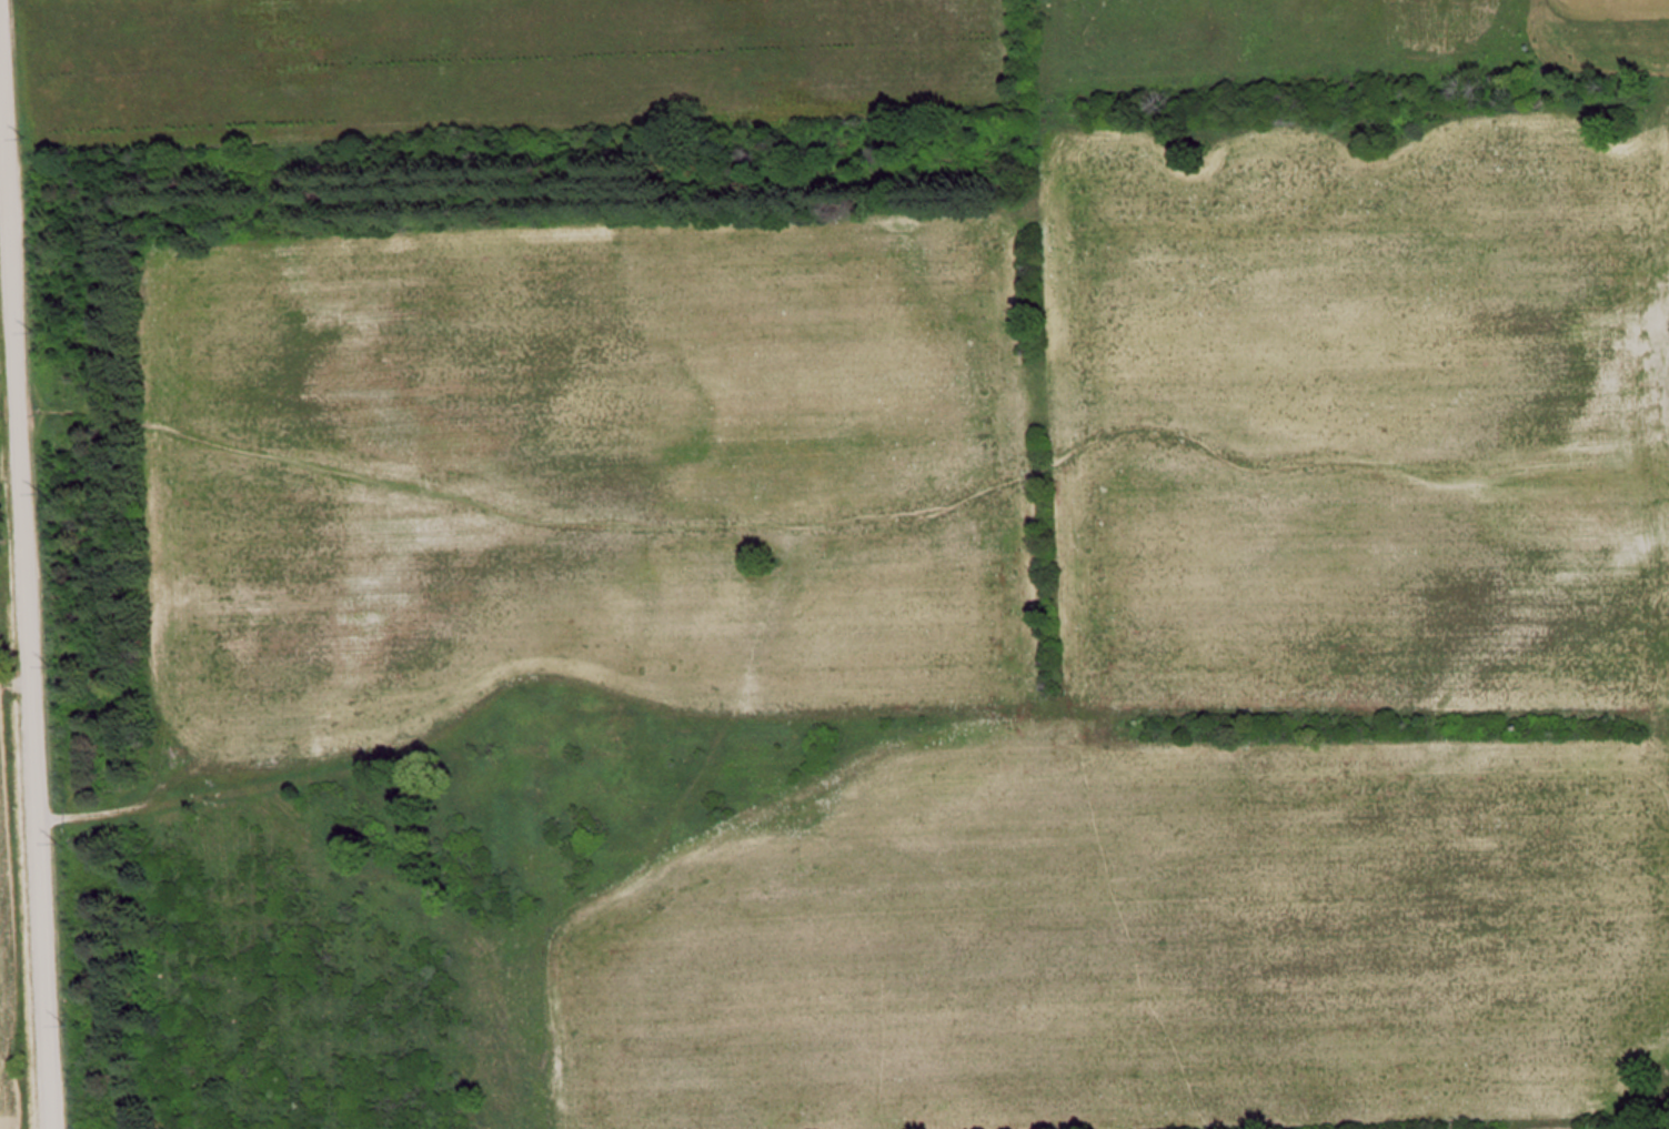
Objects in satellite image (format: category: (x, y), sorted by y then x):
road: (24, 617)
road: (247, 758)

